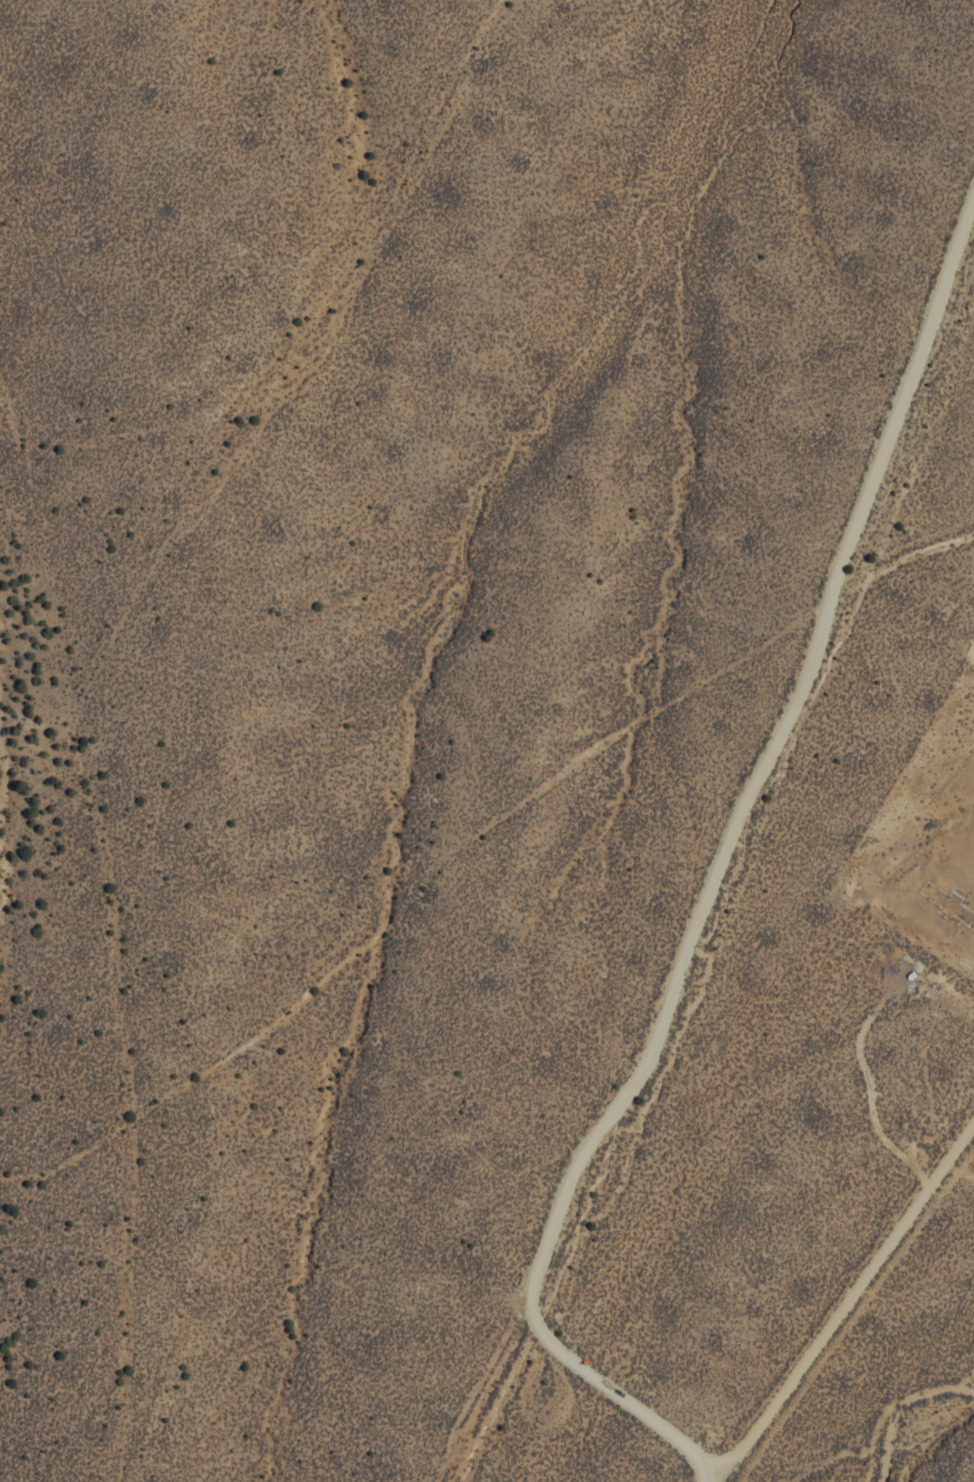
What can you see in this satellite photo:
road: (712, 886)
road: (848, 1306)

